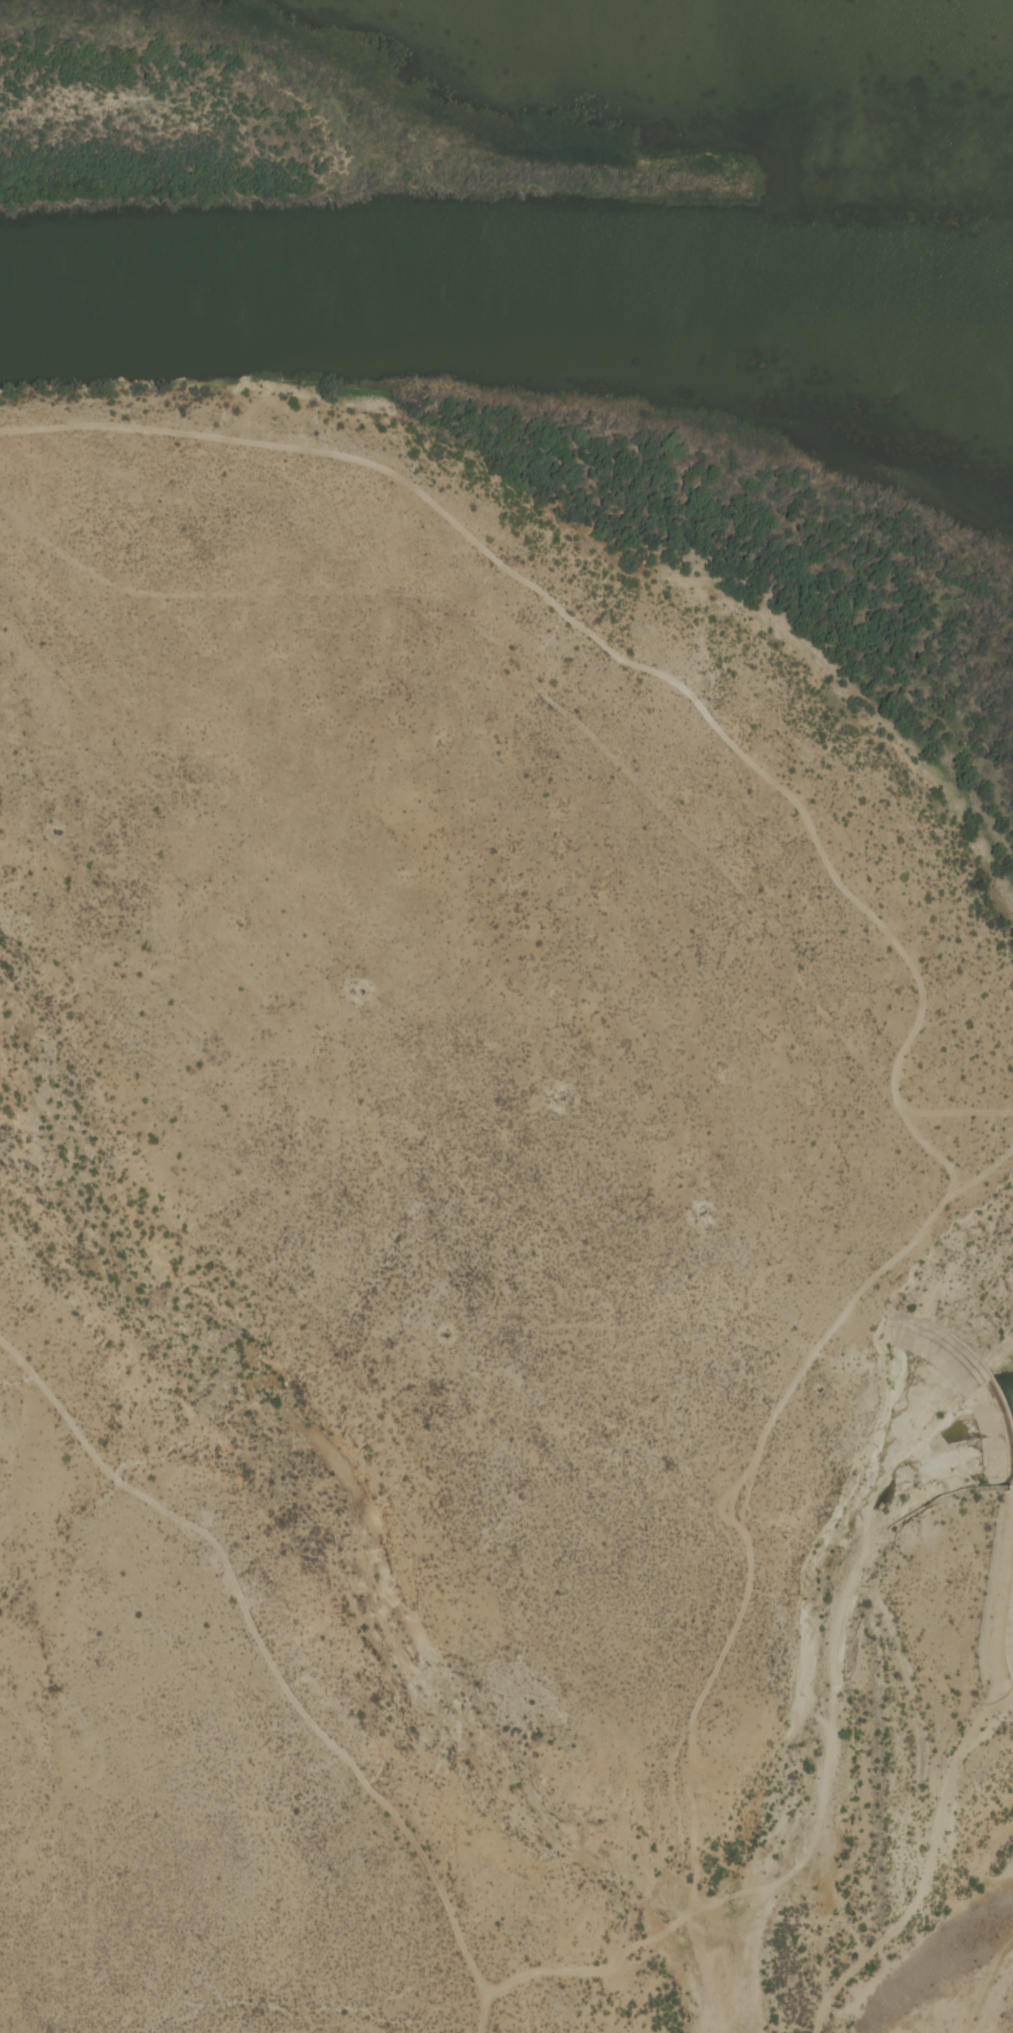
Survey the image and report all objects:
river: (506, 295)
dam: (968, 1349)
dam: (1010, 1642)

